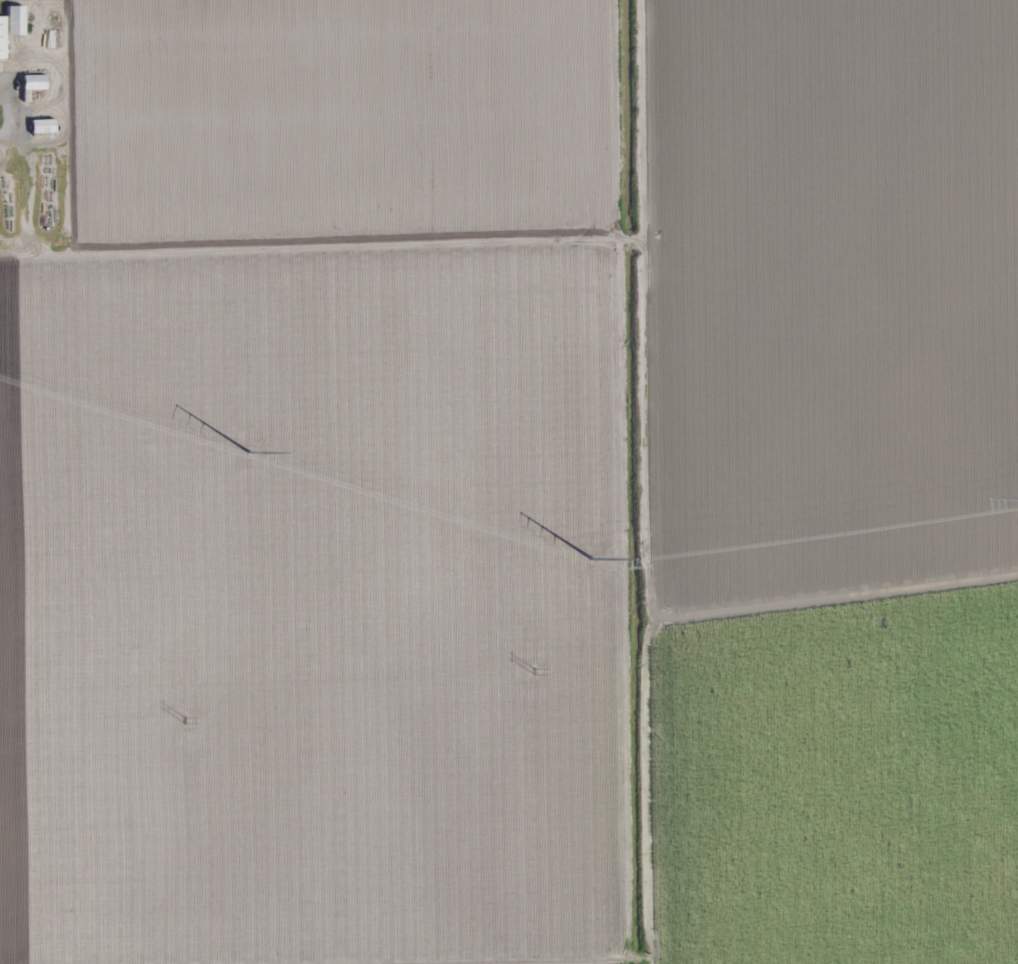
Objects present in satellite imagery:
building: (11, 26)
building: (33, 83)
building: (42, 126)
power tower: (250, 451)
power tower: (592, 556)
power tower: (885, 623)
power tower: (534, 672)
power tower: (184, 720)

